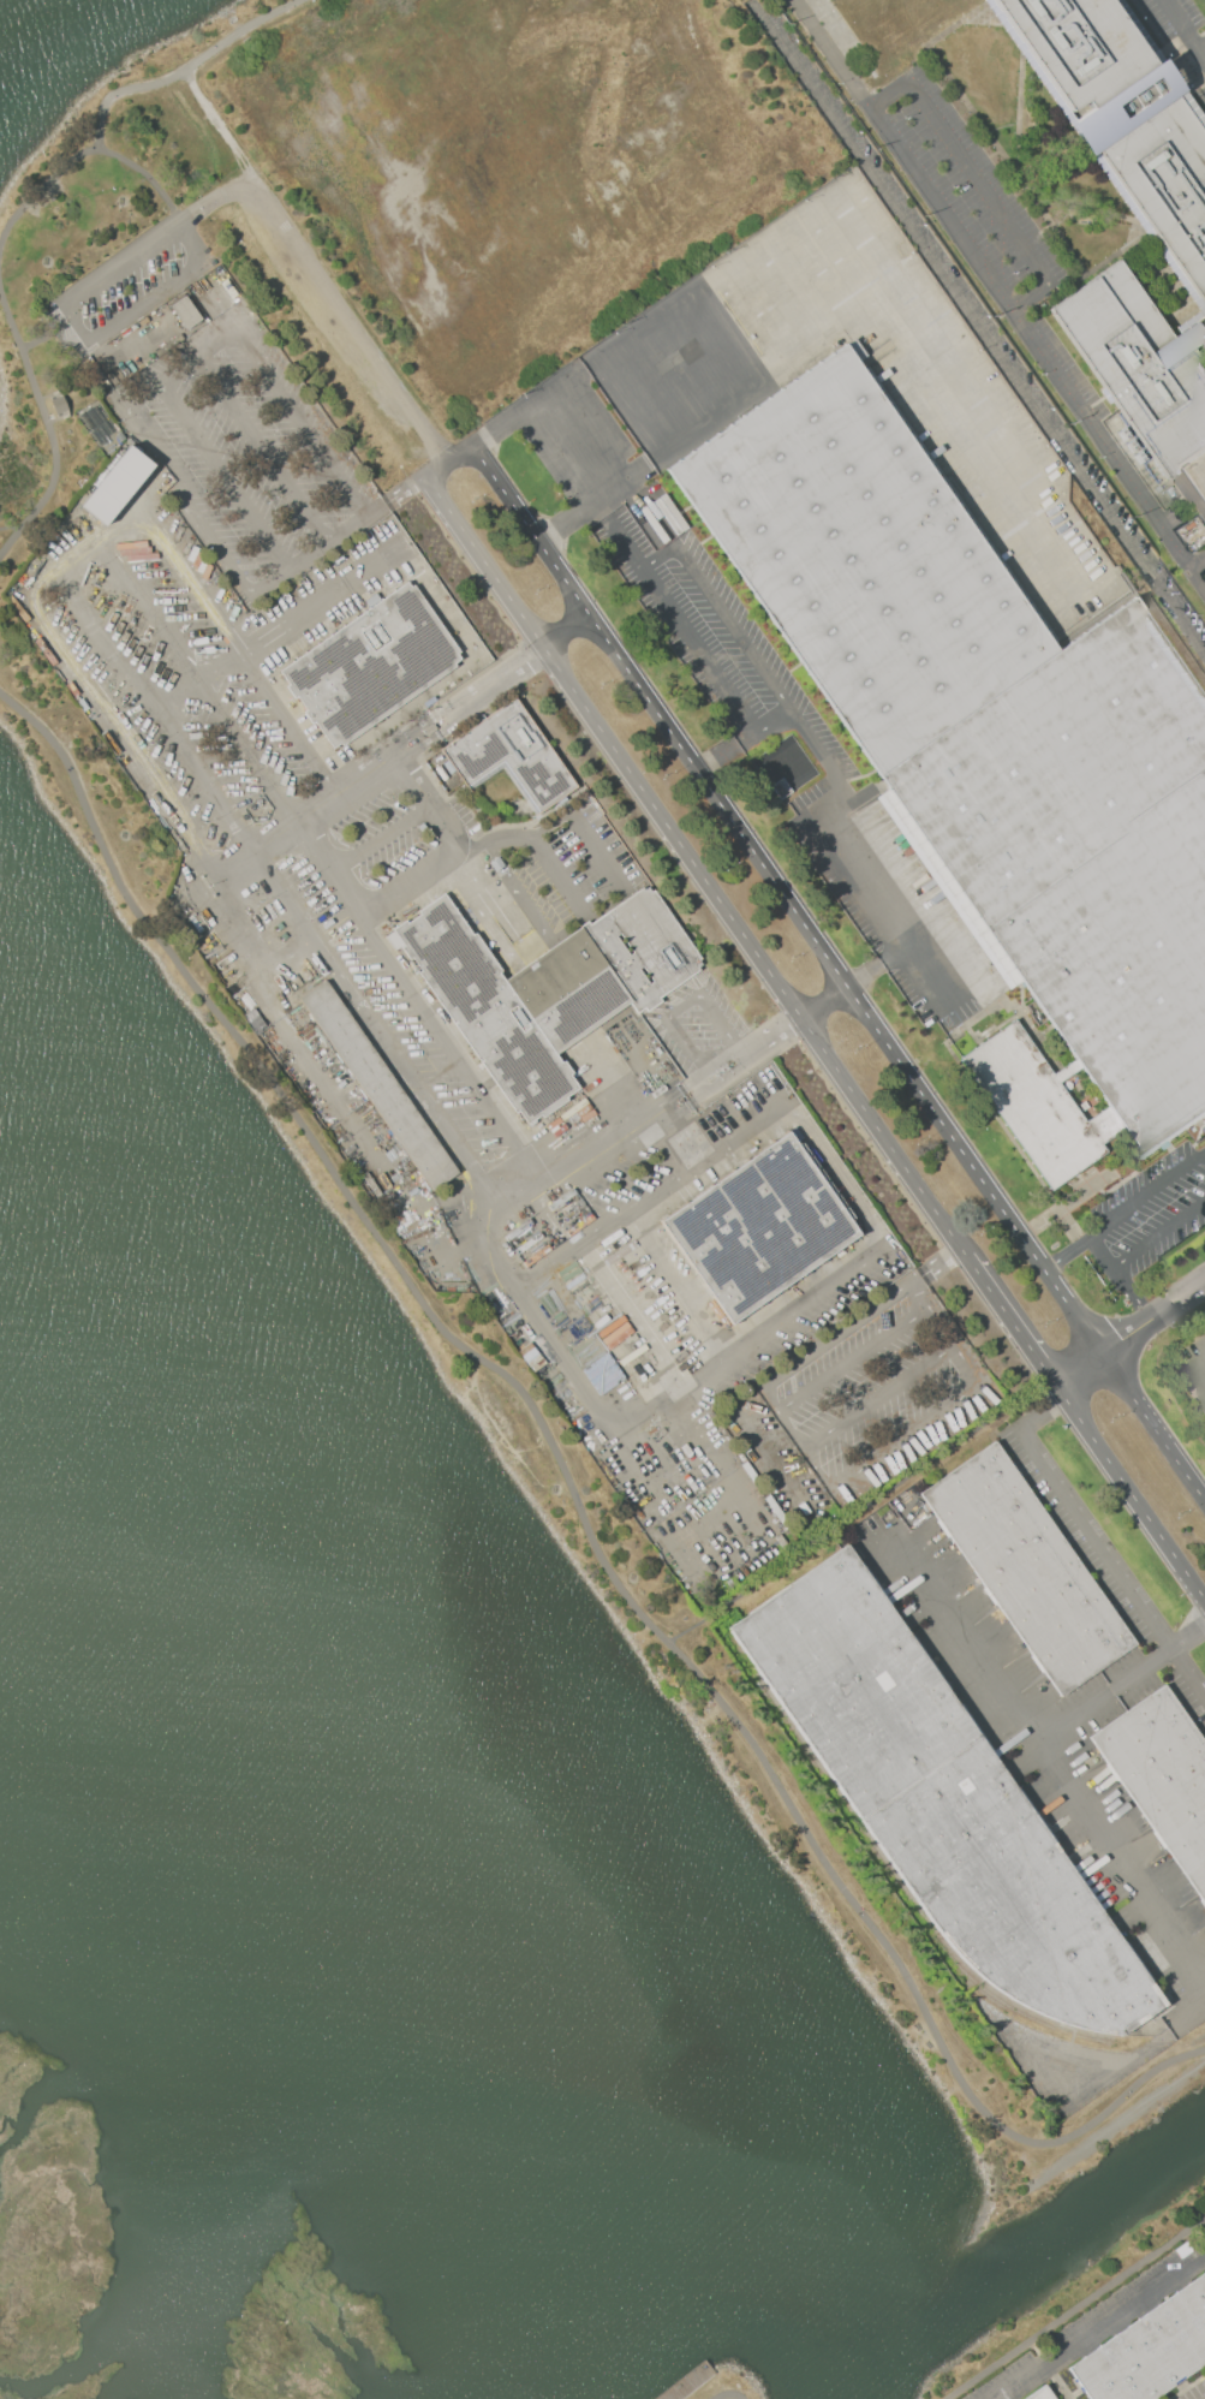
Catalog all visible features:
road: (1185, 23)
parking lot: (1183, 30)
road: (237, 31)
road: (1203, 44)
building: (1086, 47)
road: (1203, 49)
road: (222, 131)
road: (90, 144)
road: (145, 174)
building: (1169, 177)
road: (978, 179)
road: (740, 266)
parking lot: (1022, 276)
parking lot: (130, 282)
road: (997, 288)
road: (333, 297)
road: (865, 305)
building: (185, 312)
road: (84, 332)
road: (48, 333)
road: (250, 337)
road: (983, 337)
building: (1143, 364)
building: (59, 405)
road: (580, 413)
road: (48, 428)
road: (263, 447)
road: (447, 462)
road: (222, 475)
building: (117, 486)
road: (10, 525)
road: (1201, 576)
road: (246, 587)
road: (717, 612)
road: (672, 619)
road: (49, 623)
road: (566, 632)
road: (240, 650)
building: (371, 665)
road: (201, 683)
road: (445, 706)
road: (160, 713)
road: (766, 727)
building: (988, 728)
road: (424, 745)
road: (723, 755)
building: (509, 757)
building: (780, 787)
road: (581, 828)
road: (376, 840)
road: (279, 845)
road: (835, 852)
road: (548, 853)
road: (448, 855)
road: (524, 862)
road: (693, 869)
road: (788, 900)
road: (531, 948)
road: (926, 982)
building: (544, 988)
road: (682, 1002)
building: (377, 1084)
building: (1037, 1105)
road: (777, 1109)
road: (664, 1114)
road: (687, 1135)
road: (1147, 1195)
building: (759, 1227)
road: (1158, 1233)
road: (1066, 1251)
road: (1100, 1251)
road: (933, 1268)
road: (673, 1286)
road: (1132, 1294)
road: (918, 1297)
road: (631, 1317)
road: (1155, 1320)
road: (1010, 1323)
road: (824, 1344)
road: (852, 1359)
road: (1200, 1363)
road: (1080, 1373)
road: (579, 1382)
road: (877, 1397)
road: (642, 1412)
road: (1153, 1428)
road: (703, 1434)
road: (901, 1437)
road: (763, 1441)
road: (669, 1460)
road: (1129, 1496)
road: (574, 1499)
road: (859, 1508)
road: (703, 1516)
road: (1094, 1543)
building: (1026, 1567)
road: (1016, 1721)
building: (1162, 1775)
building: (939, 1799)
road: (1118, 1862)
road: (1123, 2065)
road: (1074, 2308)
road: (1104, 2327)
building: (1149, 2350)
park: (711, 2380)
road: (1055, 2385)
building: (1040, 2393)
road: (727, 2394)

